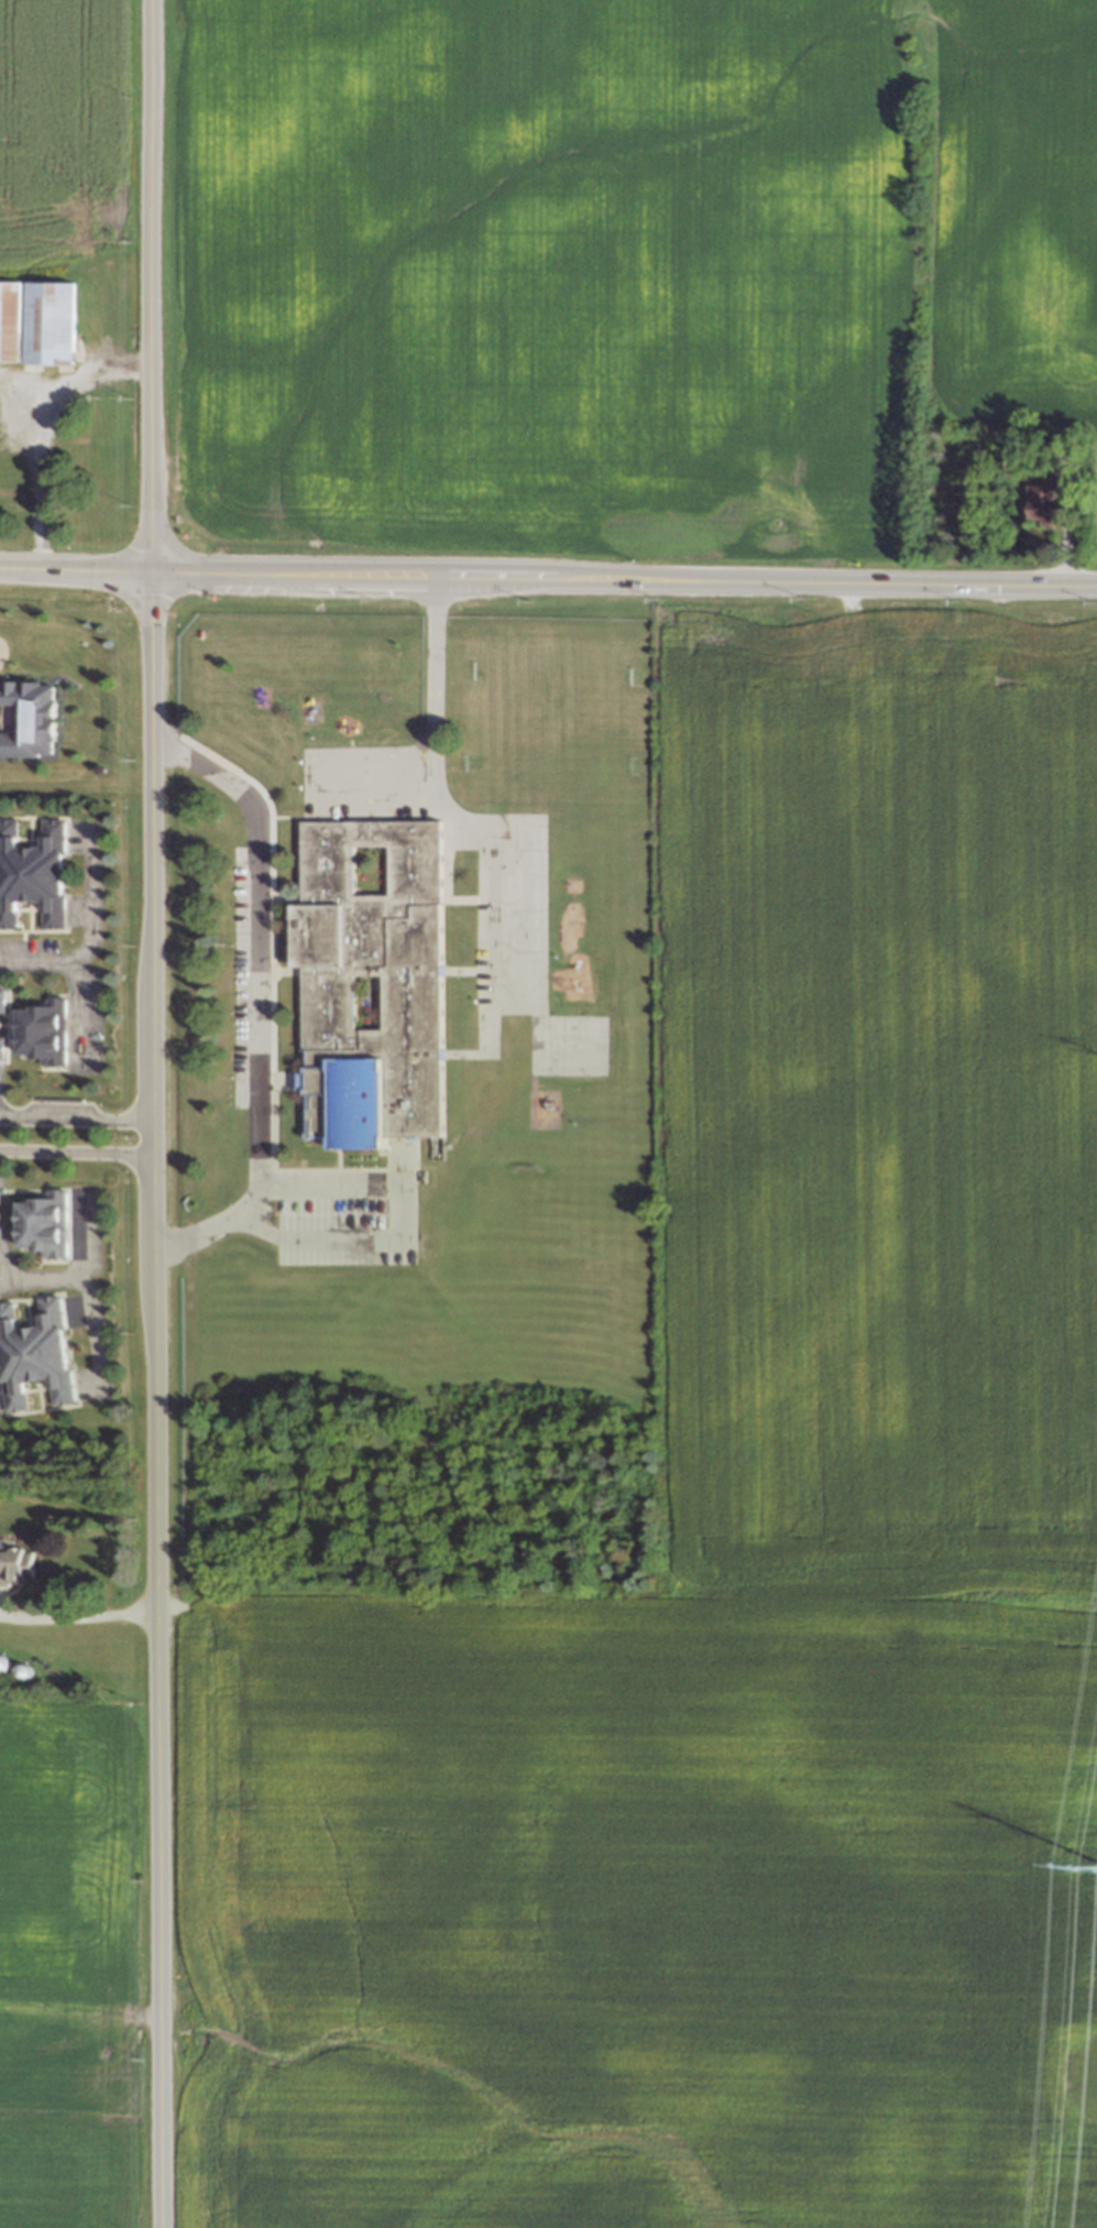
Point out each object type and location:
building: (35, 319)
road: (39, 429)
building: (1061, 449)
building: (1043, 504)
road: (548, 579)
building: (26, 719)
road: (430, 721)
road: (308, 777)
building: (34, 876)
road: (85, 932)
building: (370, 982)
road: (254, 996)
building: (2, 1003)
road: (79, 1014)
building: (45, 1031)
building: (3, 1049)
road: (75, 1114)
road: (150, 1114)
road: (75, 1154)
building: (45, 1217)
road: (392, 1224)
road: (1, 1275)
road: (85, 1288)
building: (35, 1358)
building: (18, 1559)
road: (77, 1613)
building: (2, 1660)
building: (24, 1668)
building: (43, 1669)
crop: (72, 1968)

